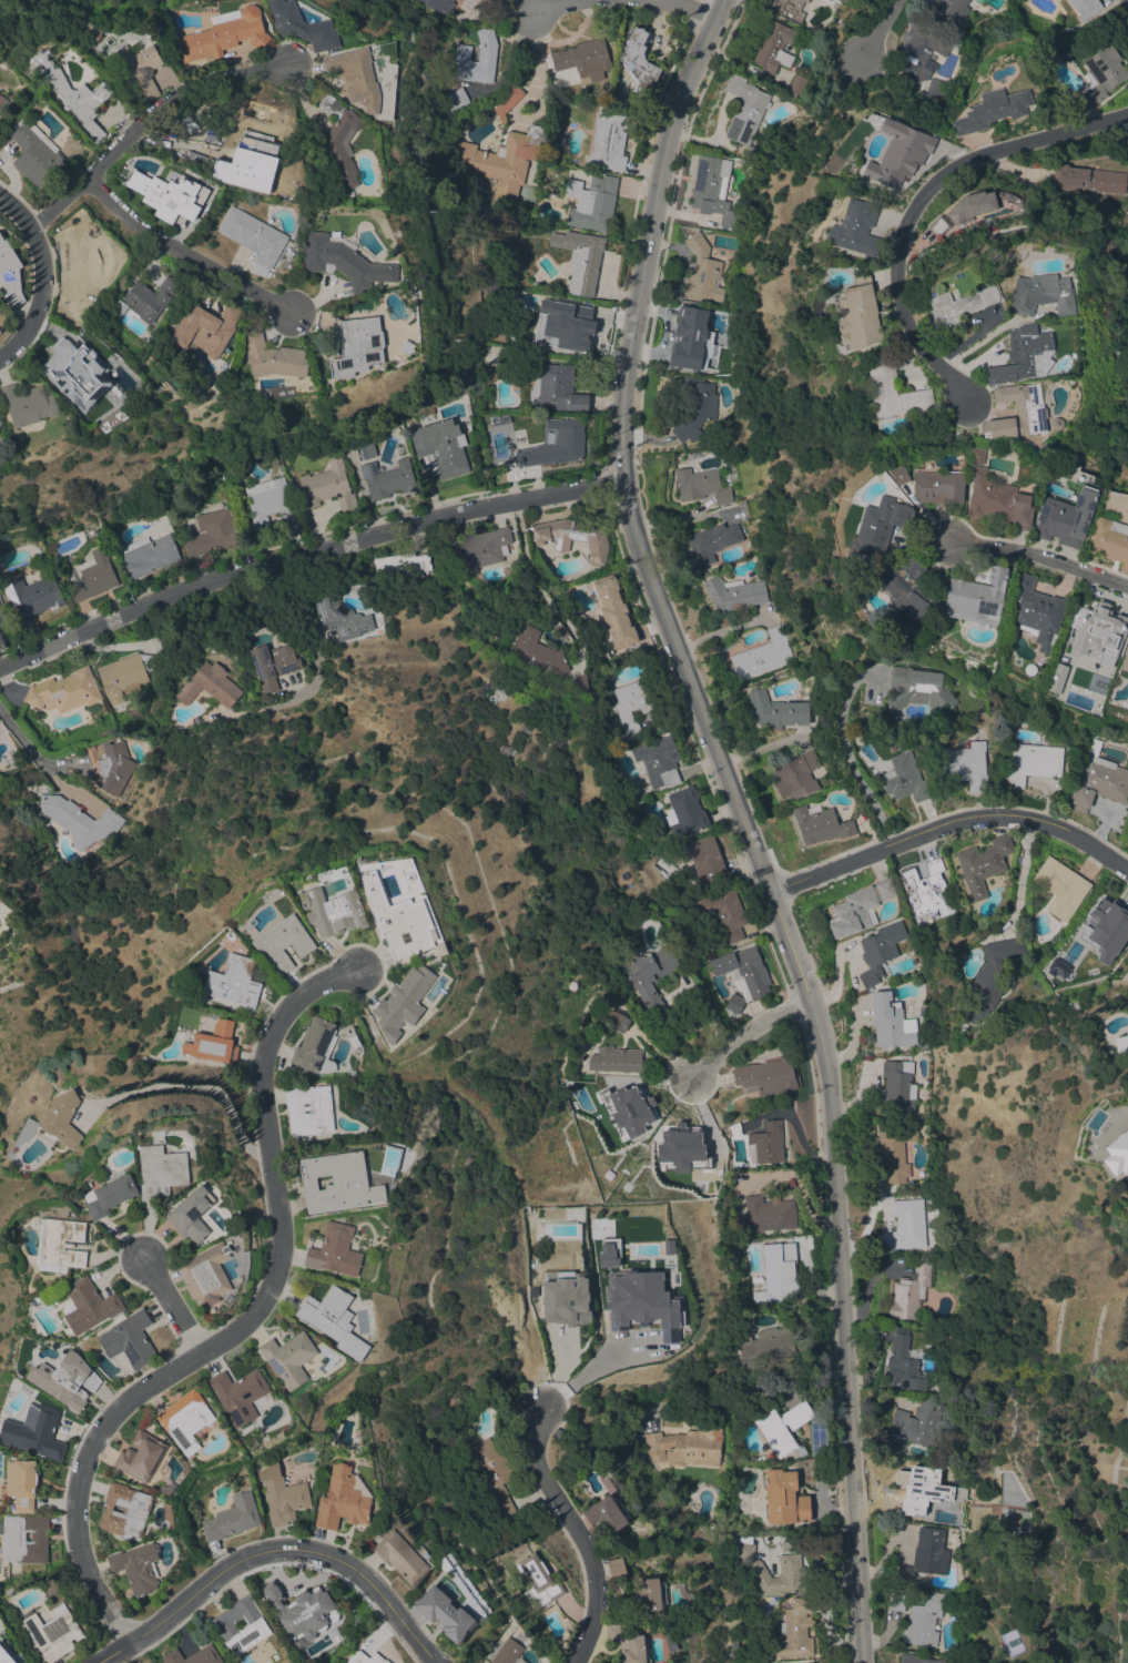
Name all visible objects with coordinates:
building: (844, 0)
building: (1053, 0)
building: (439, 6)
road: (542, 8)
building: (1085, 8)
road: (685, 9)
building: (787, 9)
building: (952, 9)
building: (302, 26)
road: (882, 29)
building: (1067, 29)
building: (89, 32)
building: (224, 33)
building: (622, 33)
building: (409, 40)
building: (616, 41)
building: (773, 47)
building: (925, 49)
building: (487, 52)
building: (582, 57)
building: (639, 61)
building: (139, 70)
building: (1099, 75)
building: (356, 77)
building: (797, 84)
building: (936, 90)
road: (536, 91)
building: (74, 95)
building: (456, 99)
building: (507, 100)
building: (2, 101)
building: (744, 110)
building: (992, 110)
road: (146, 119)
building: (187, 123)
building: (608, 139)
building: (341, 140)
building: (898, 153)
building: (35, 156)
building: (247, 163)
building: (500, 164)
building: (1089, 179)
building: (713, 189)
building: (169, 194)
building: (591, 202)
road: (918, 203)
building: (972, 206)
building: (937, 225)
building: (855, 227)
building: (253, 237)
building: (289, 252)
road: (181, 255)
building: (580, 257)
building: (343, 262)
building: (79, 264)
building: (701, 271)
building: (10, 272)
road: (43, 277)
building: (535, 284)
building: (1041, 294)
building: (150, 298)
building: (958, 307)
building: (118, 308)
building: (858, 313)
building: (204, 327)
building: (580, 327)
building: (692, 339)
road: (980, 339)
building: (357, 346)
building: (406, 346)
building: (1024, 355)
building: (275, 358)
building: (79, 373)
building: (559, 388)
building: (893, 391)
building: (28, 404)
building: (693, 406)
building: (428, 410)
building: (1030, 412)
building: (512, 429)
building: (556, 445)
building: (441, 446)
building: (367, 449)
building: (976, 455)
building: (1065, 465)
building: (900, 475)
building: (387, 478)
building: (327, 485)
building: (701, 485)
building: (938, 486)
building: (266, 498)
building: (998, 500)
building: (1065, 517)
building: (877, 527)
building: (1093, 529)
building: (214, 530)
building: (571, 536)
building: (1110, 540)
building: (711, 541)
building: (478, 548)
road: (305, 554)
building: (149, 555)
road: (1041, 558)
building: (402, 564)
building: (93, 577)
building: (906, 587)
building: (733, 592)
building: (32, 596)
building: (976, 597)
building: (1034, 611)
building: (613, 612)
building: (343, 618)
building: (3, 623)
building: (1091, 635)
building: (538, 652)
building: (762, 655)
building: (1125, 661)
building: (272, 665)
building: (125, 675)
building: (1056, 677)
building: (209, 685)
building: (578, 687)
building: (917, 688)
building: (64, 690)
building: (632, 704)
building: (776, 710)
road: (40, 760)
road: (848, 760)
building: (658, 761)
building: (1034, 762)
building: (110, 765)
building: (966, 765)
building: (796, 774)
building: (904, 778)
building: (1099, 780)
building: (685, 812)
building: (79, 820)
road: (739, 821)
building: (820, 824)
road: (948, 824)
building: (705, 859)
building: (983, 863)
road: (1018, 871)
building: (1060, 886)
building: (926, 890)
building: (858, 907)
building: (333, 911)
building: (722, 912)
building: (396, 920)
building: (1105, 925)
building: (283, 942)
building: (880, 950)
building: (1057, 967)
building: (743, 969)
building: (650, 976)
building: (990, 976)
building: (234, 982)
building: (402, 998)
building: (734, 1003)
building: (618, 1022)
building: (890, 1022)
building: (962, 1026)
road: (745, 1032)
building: (213, 1043)
building: (1120, 1043)
building: (922, 1044)
building: (315, 1046)
building: (582, 1059)
building: (616, 1059)
building: (593, 1075)
building: (765, 1076)
road: (189, 1086)
building: (897, 1086)
building: (308, 1109)
building: (60, 1119)
building: (765, 1144)
building: (897, 1152)
building: (1117, 1154)
building: (161, 1170)
building: (338, 1182)
building: (109, 1195)
building: (1127, 1197)
building: (769, 1213)
building: (191, 1214)
building: (903, 1226)
building: (62, 1243)
building: (334, 1250)
building: (206, 1274)
building: (780, 1275)
building: (909, 1290)
building: (565, 1299)
road: (172, 1302)
building: (88, 1305)
building: (333, 1319)
building: (921, 1322)
road: (243, 1324)
building: (130, 1340)
building: (764, 1346)
building: (288, 1358)
building: (903, 1365)
road: (593, 1368)
building: (65, 1379)
building: (237, 1395)
building: (185, 1419)
building: (914, 1424)
building: (782, 1426)
building: (37, 1431)
building: (684, 1447)
building: (140, 1456)
building: (492, 1473)
building: (21, 1482)
building: (167, 1488)
building: (282, 1494)
building: (784, 1497)
building: (343, 1498)
building: (125, 1510)
building: (607, 1513)
building: (232, 1518)
road: (578, 1532)
building: (13, 1537)
road: (273, 1550)
building: (925, 1554)
building: (399, 1555)
building: (446, 1561)
building: (136, 1566)
building: (616, 1566)
building: (791, 1569)
building: (539, 1579)
building: (651, 1593)
building: (896, 1601)
building: (304, 1611)
building: (444, 1612)
building: (923, 1620)
building: (224, 1625)
building: (52, 1632)
building: (795, 1632)
building: (563, 1644)
building: (629, 1644)
building: (507, 1652)
building: (193, 1655)
building: (4, 1656)
building: (365, 1657)
building: (916, 1659)
building: (810, 1662)

